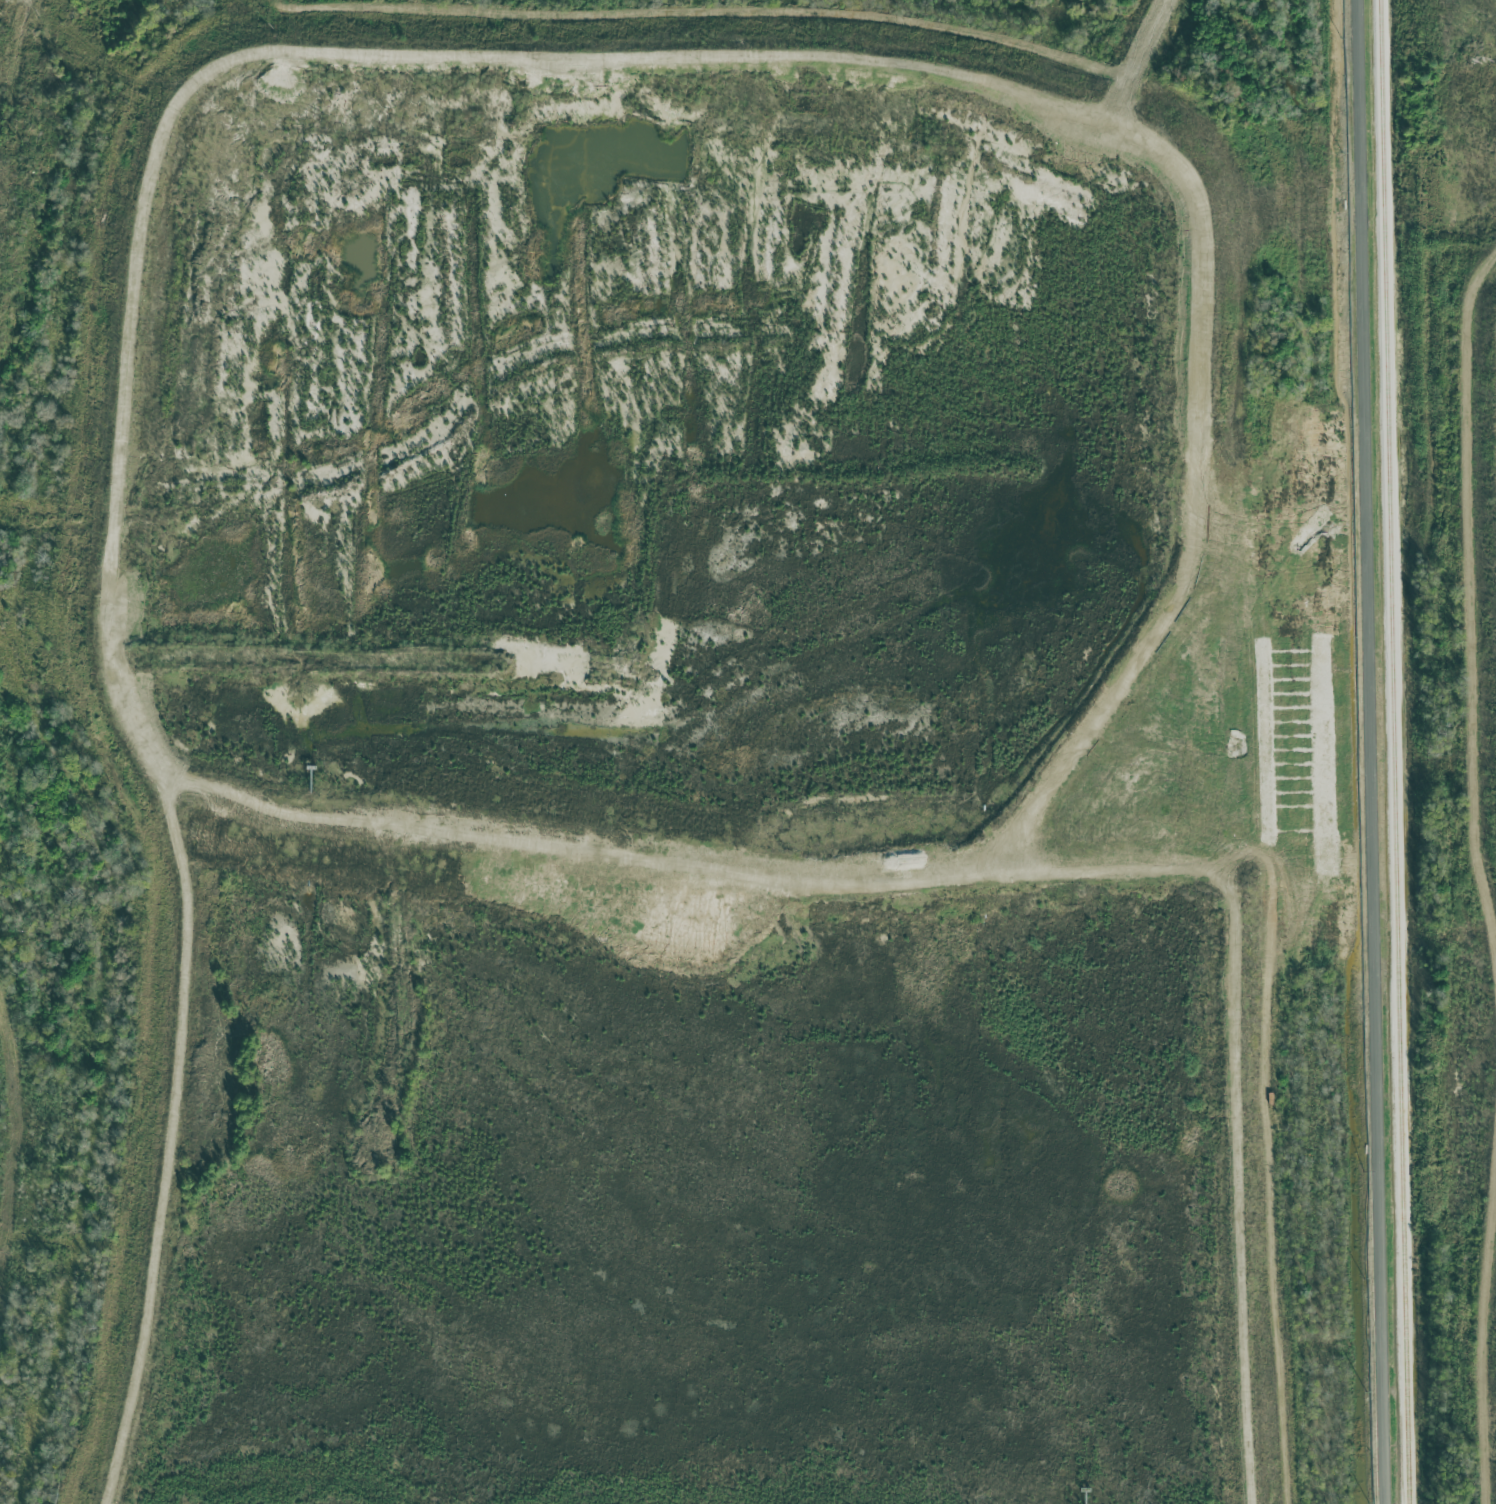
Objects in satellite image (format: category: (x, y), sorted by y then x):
road: (1025, 37)
road: (1156, 45)
road: (1373, 752)
railway: (1393, 752)
road: (436, 874)
road: (1277, 1190)

